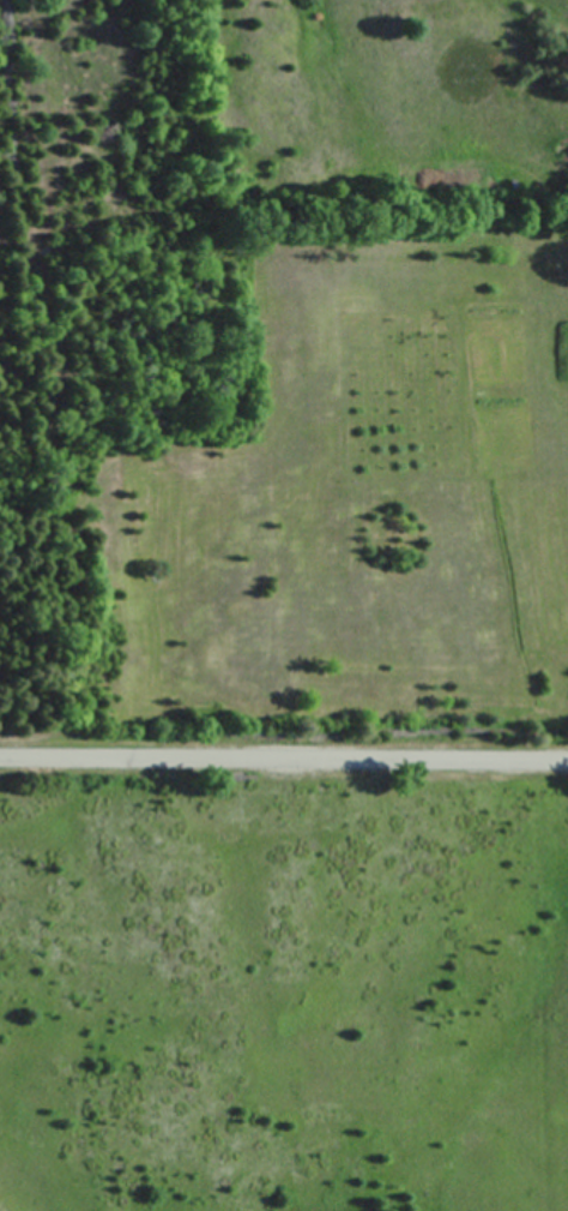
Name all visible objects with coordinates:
road: (284, 756)

